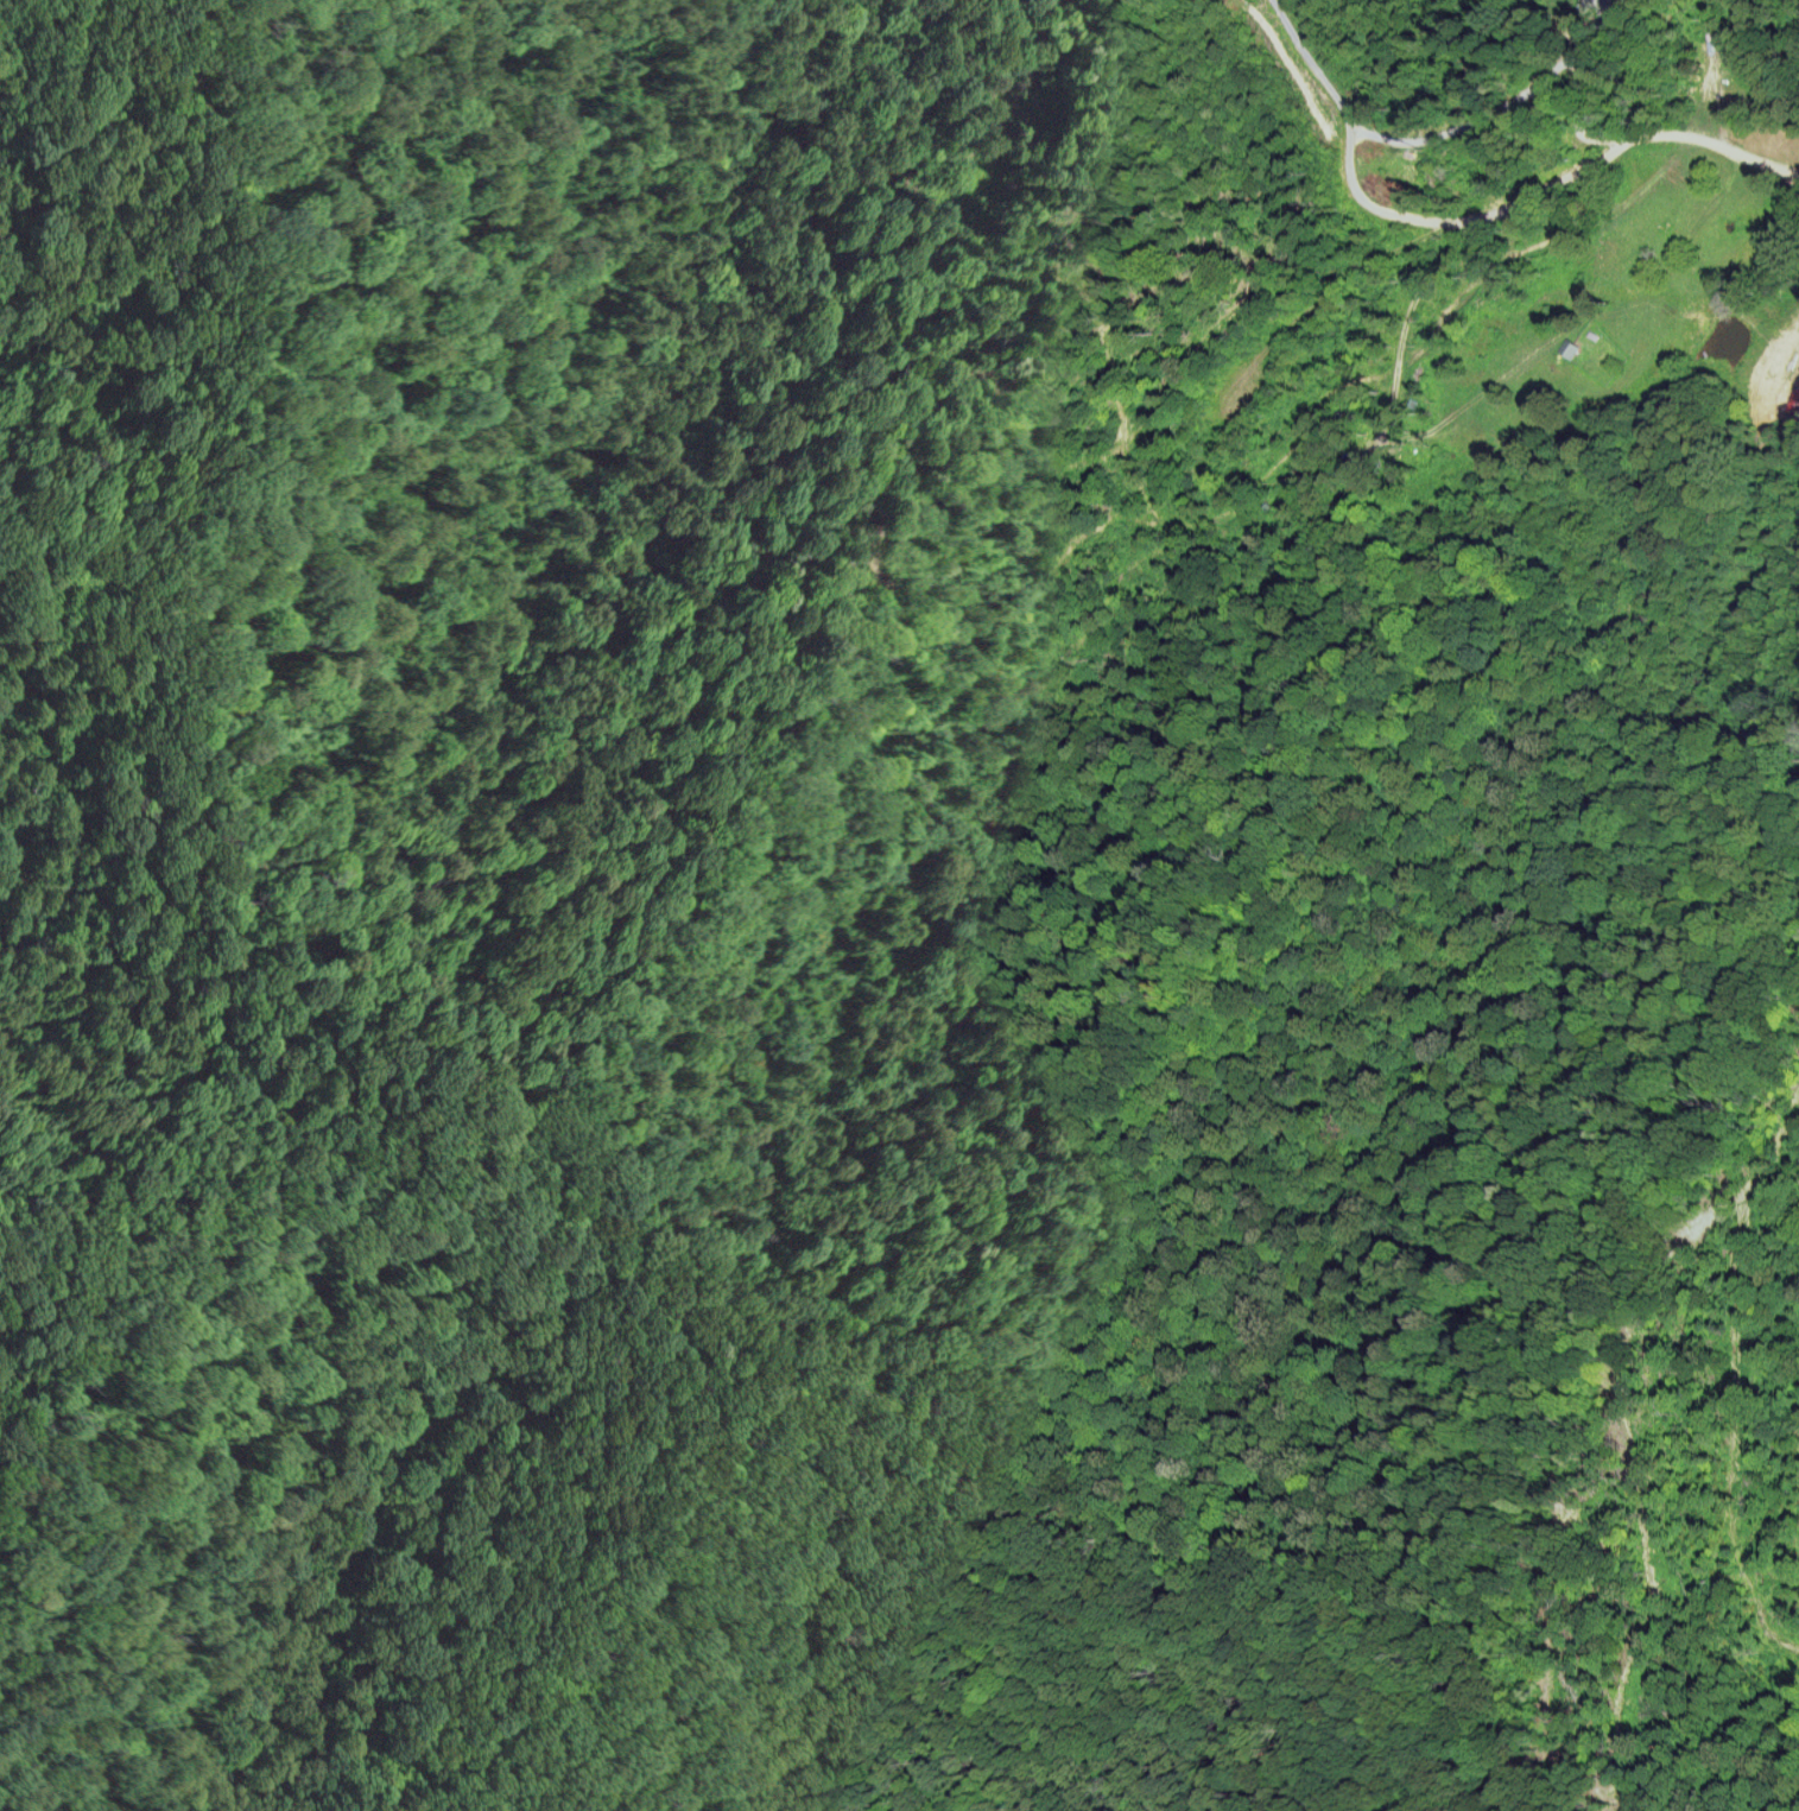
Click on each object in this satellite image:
road: (1317, 67)
road: (1722, 146)
road: (1597, 166)
building: (1570, 348)

